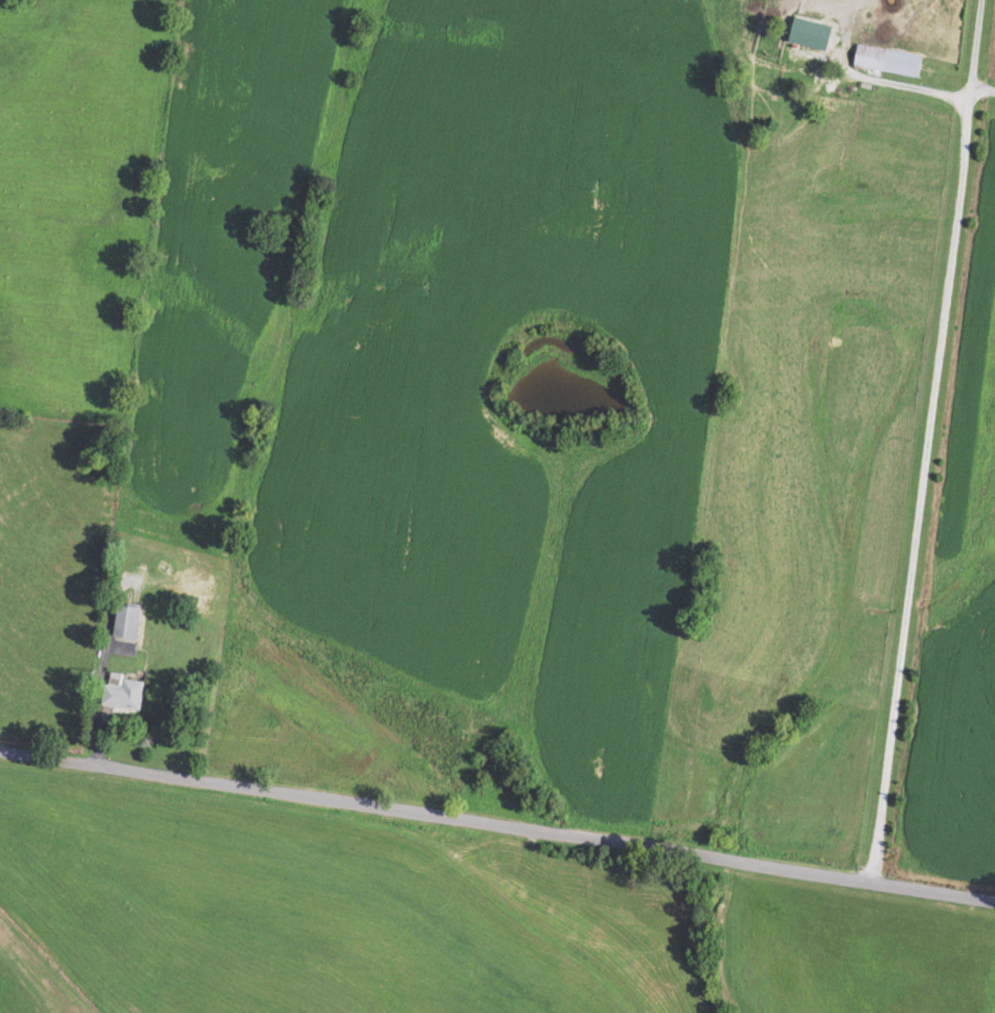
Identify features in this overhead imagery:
building: (812, 39)
building: (891, 60)
road: (872, 79)
road: (982, 87)
road: (923, 439)
building: (128, 620)
building: (124, 691)
road: (497, 824)

